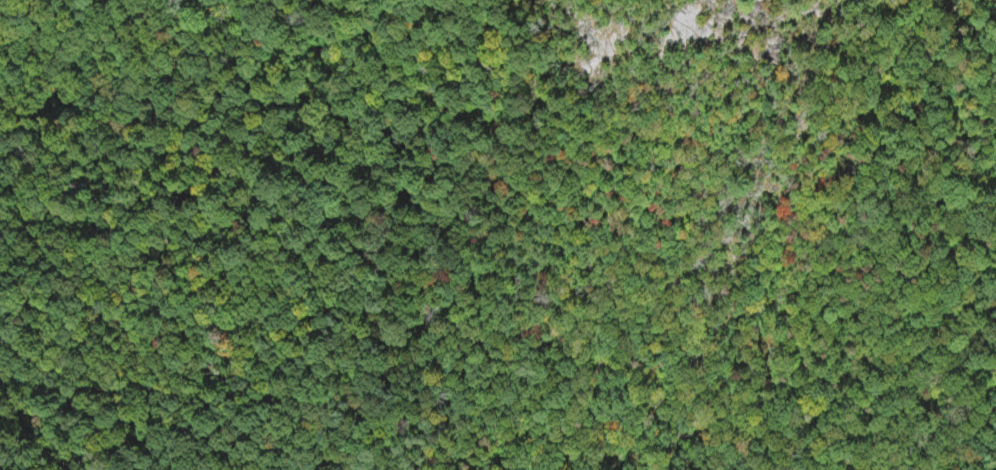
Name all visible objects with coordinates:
road: (372, 270)

